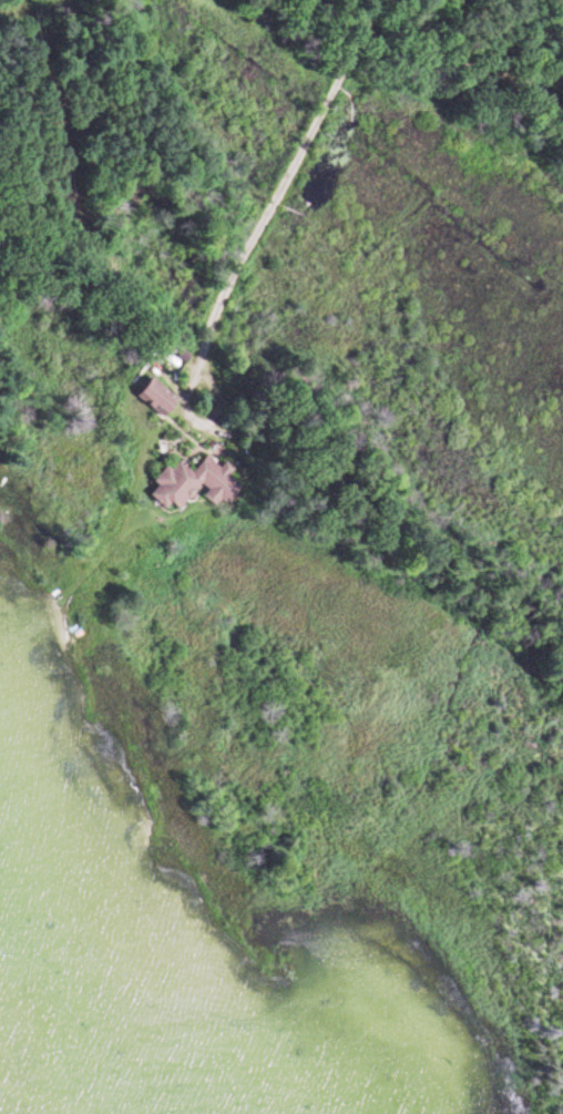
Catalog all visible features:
road: (279, 194)
building: (155, 403)
building: (184, 479)

